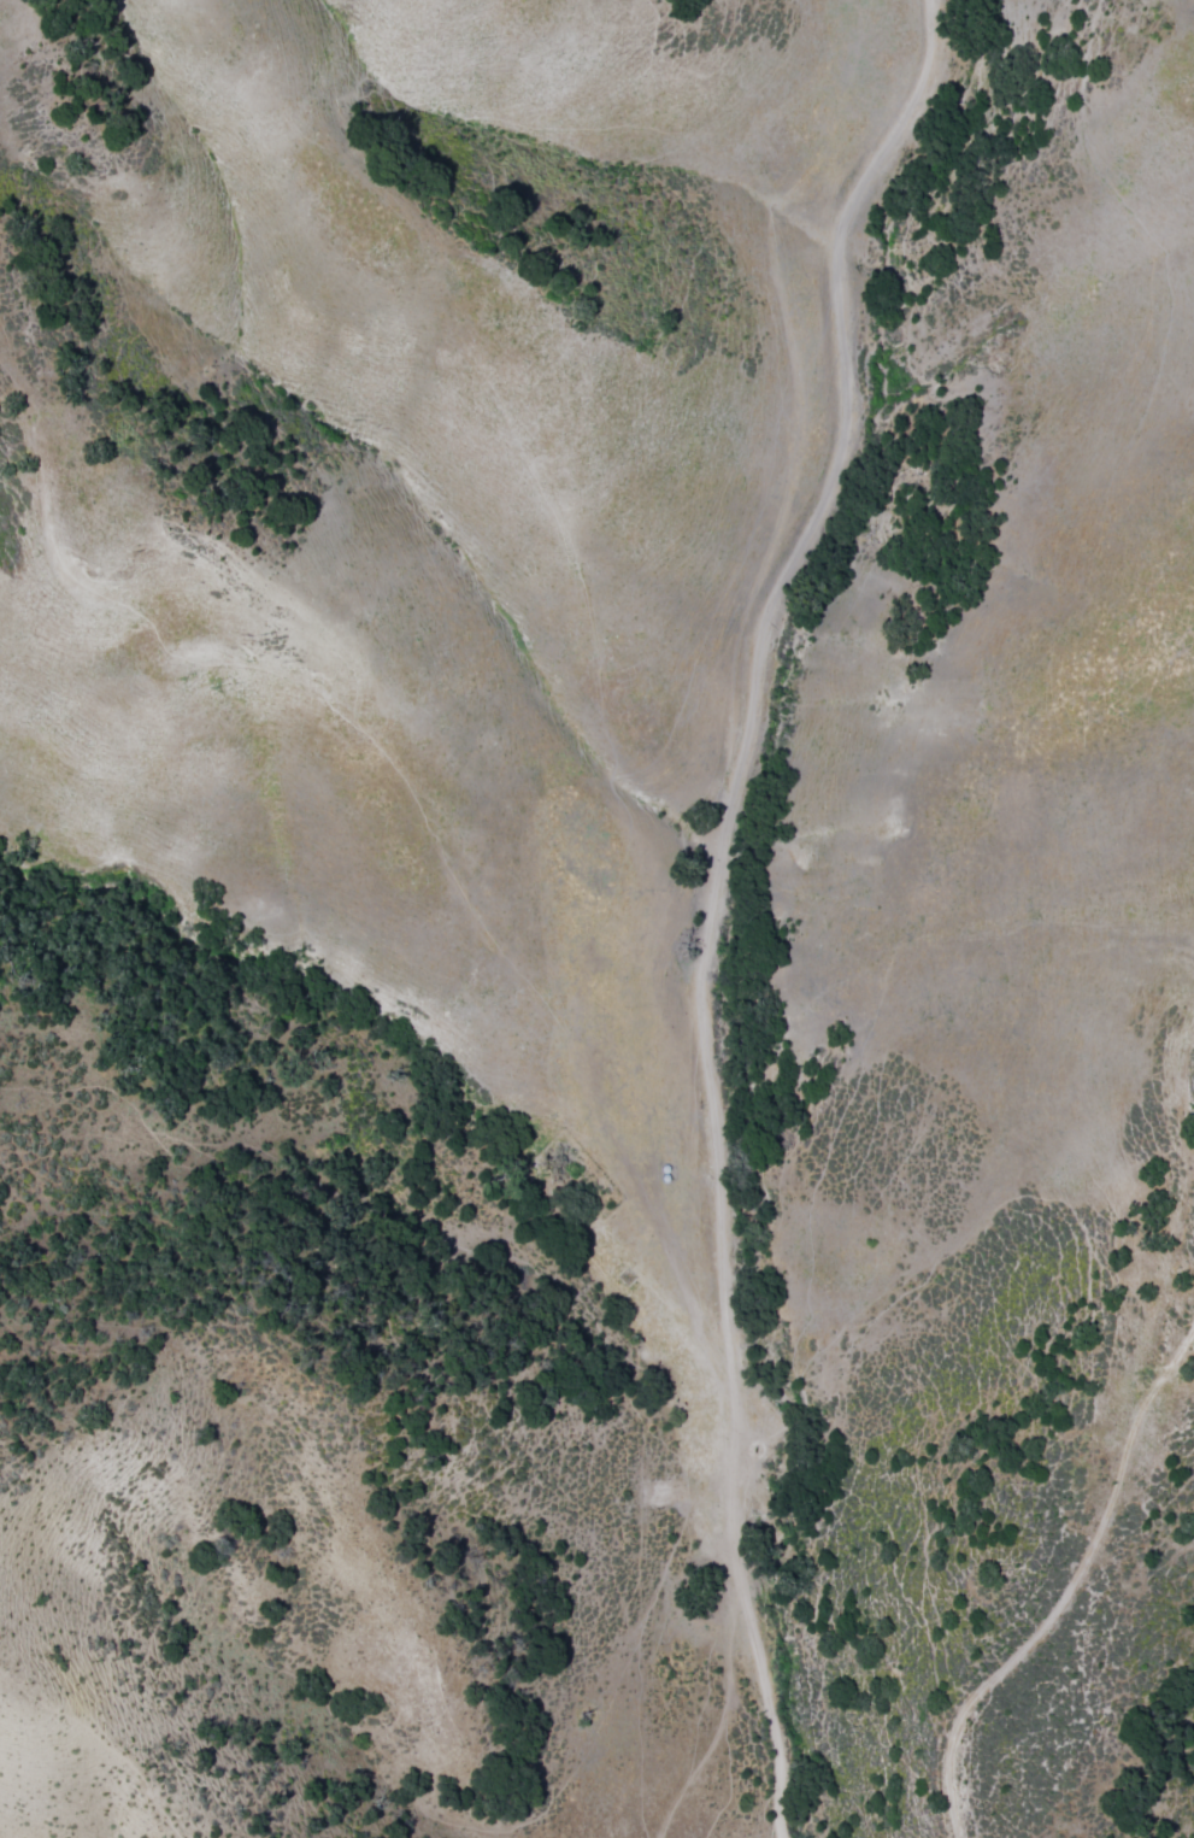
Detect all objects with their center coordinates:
road: (718, 902)
road: (1125, 1444)
road: (713, 1775)

